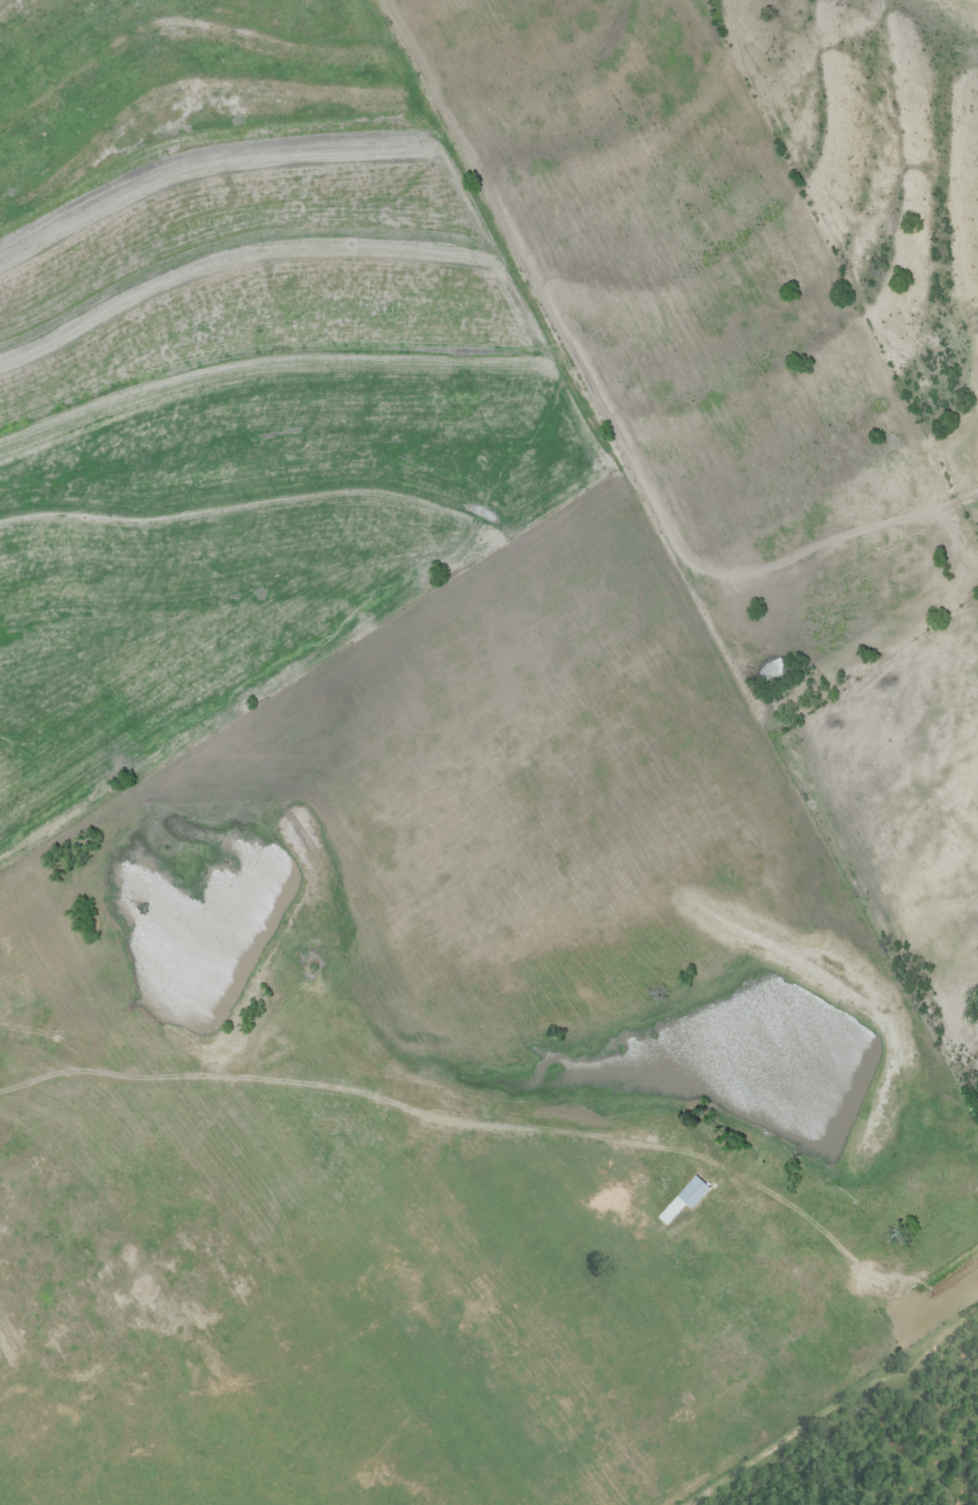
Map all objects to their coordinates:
road: (613, 428)
building: (693, 1193)

